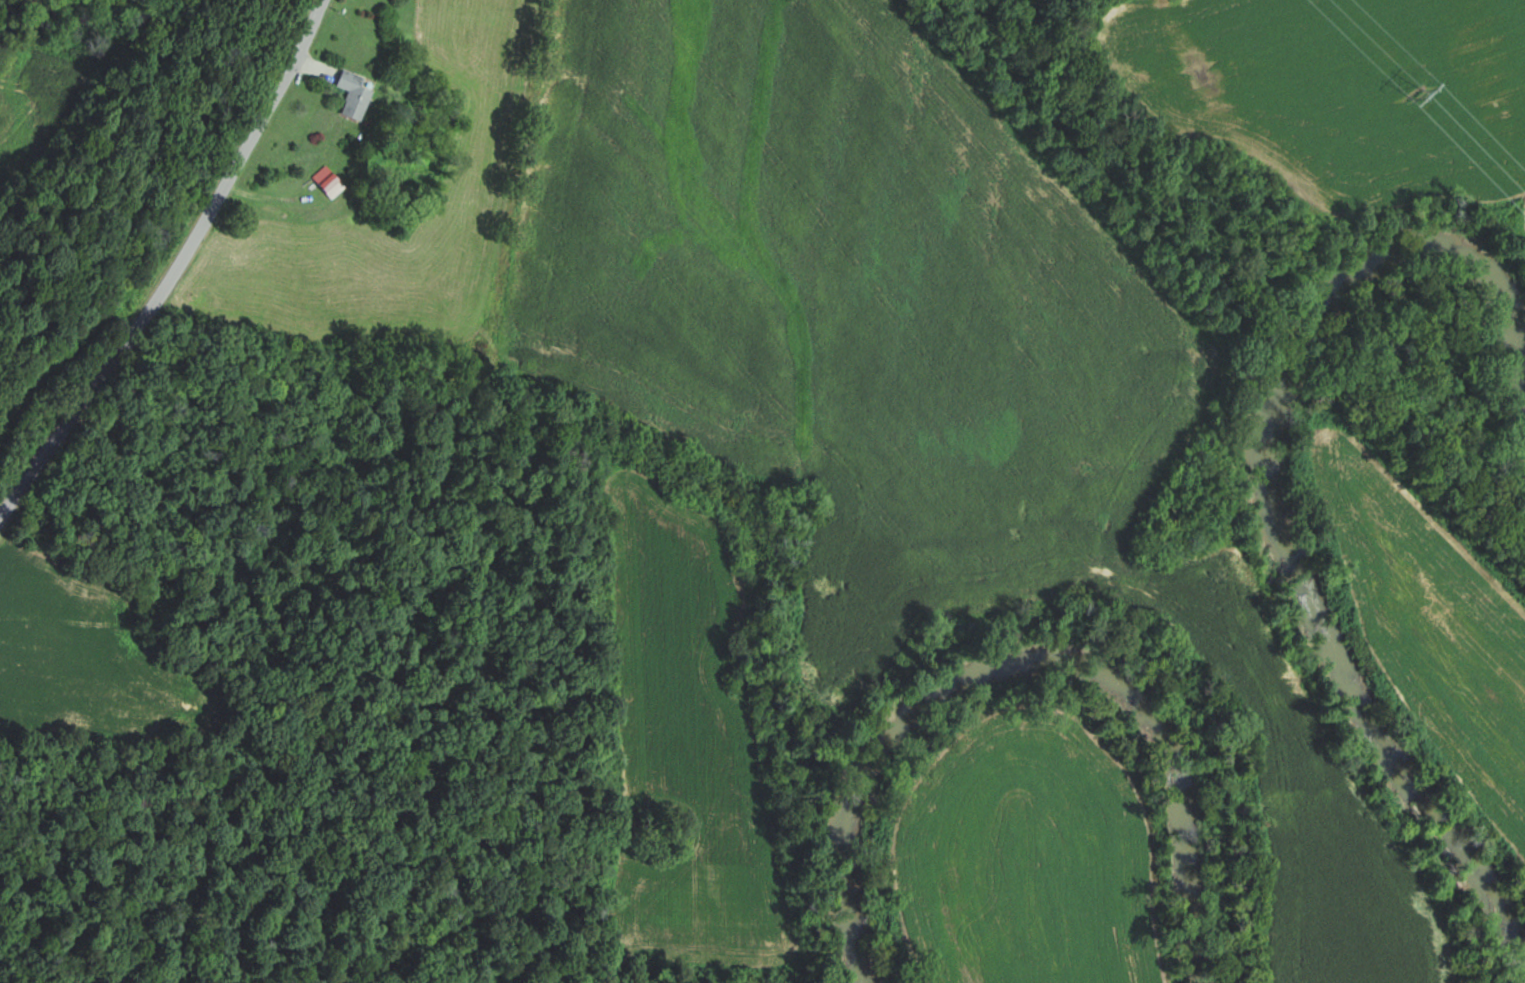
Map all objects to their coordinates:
power tower: (1416, 92)
building: (352, 94)
building: (328, 181)
road: (174, 268)

